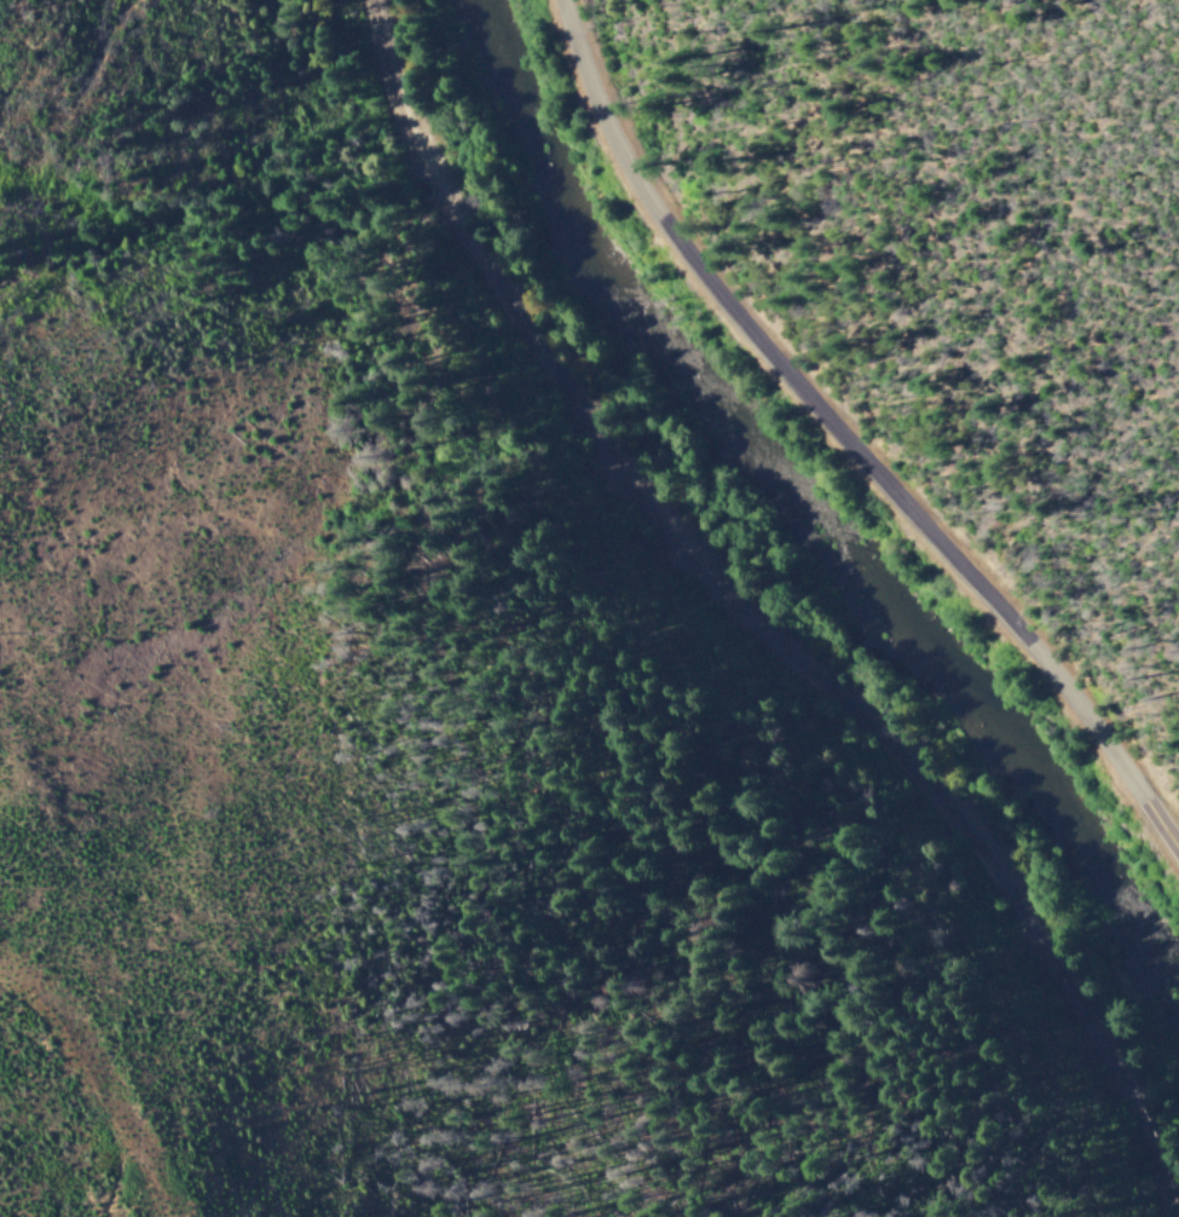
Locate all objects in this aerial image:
road: (848, 436)
railway: (761, 617)
road: (92, 1083)

